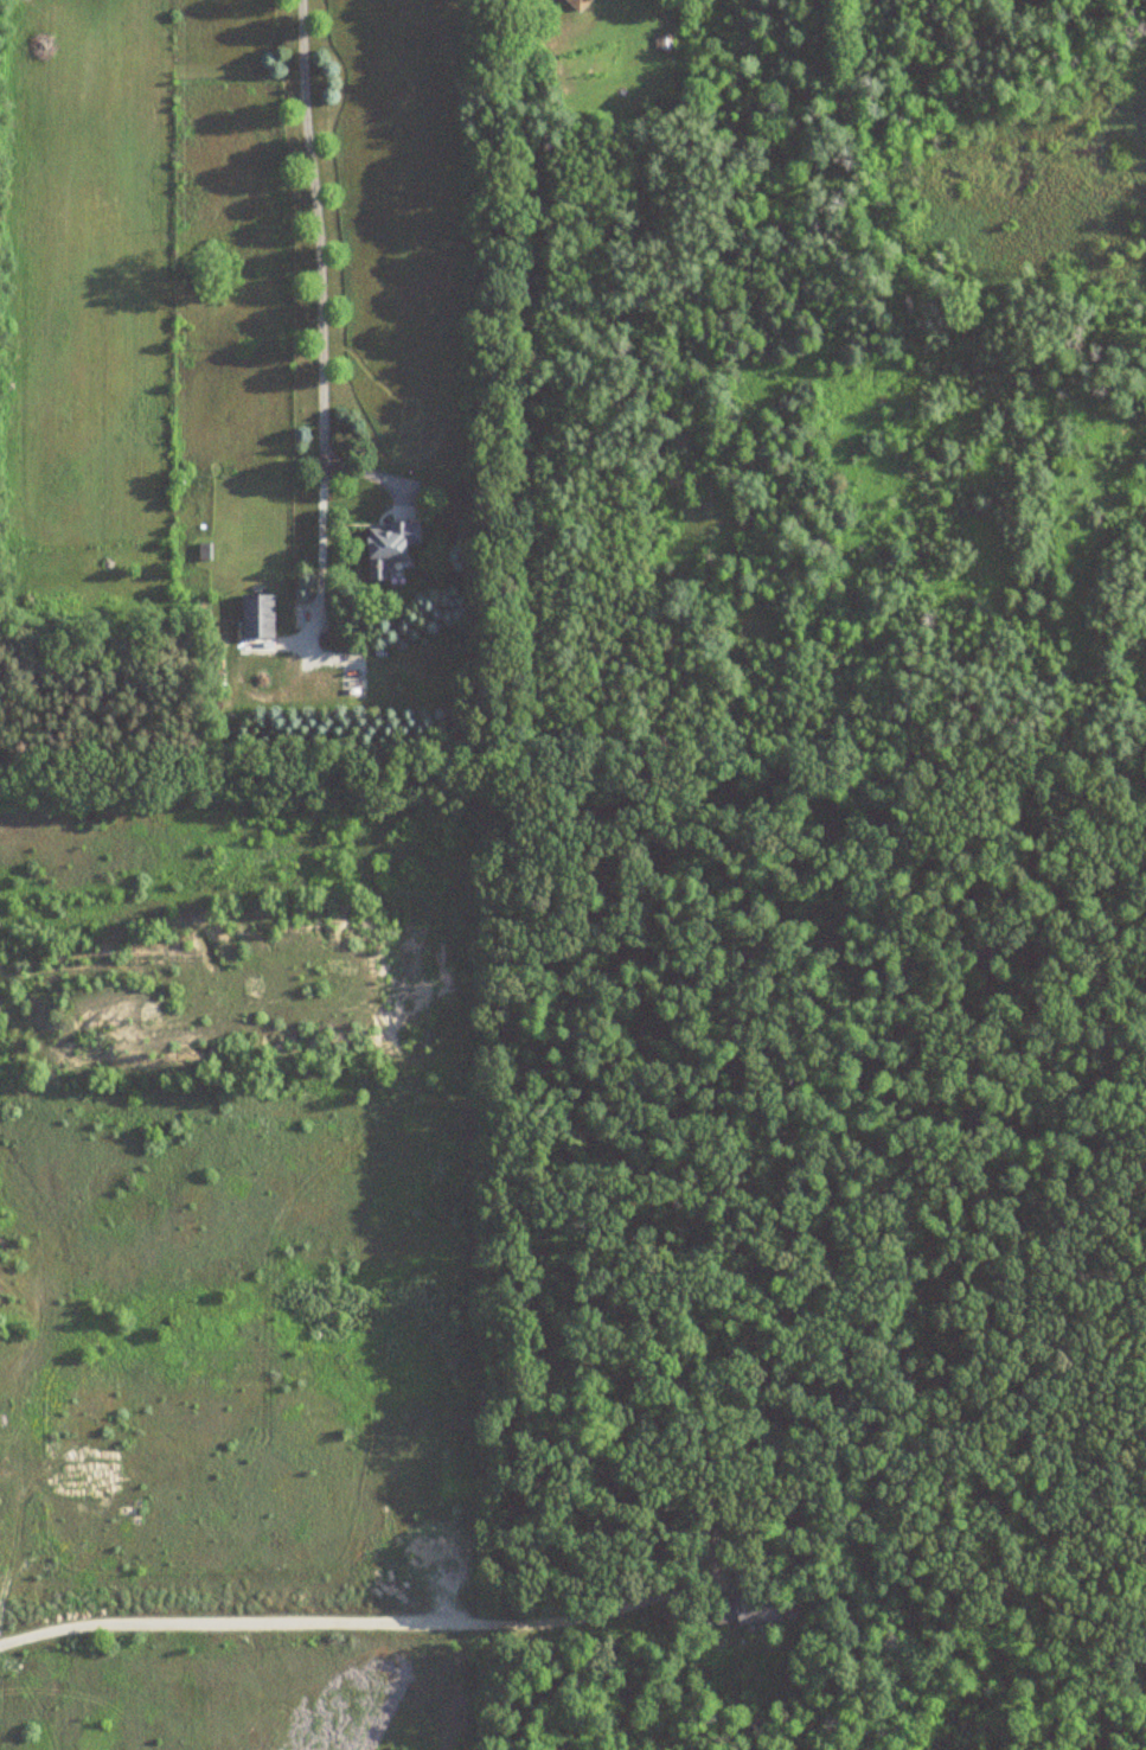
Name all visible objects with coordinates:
building: (578, 4)
road: (321, 269)
road: (318, 534)
building: (389, 547)
building: (257, 618)
building: (704, 1545)
building: (744, 1609)
road: (357, 1621)

